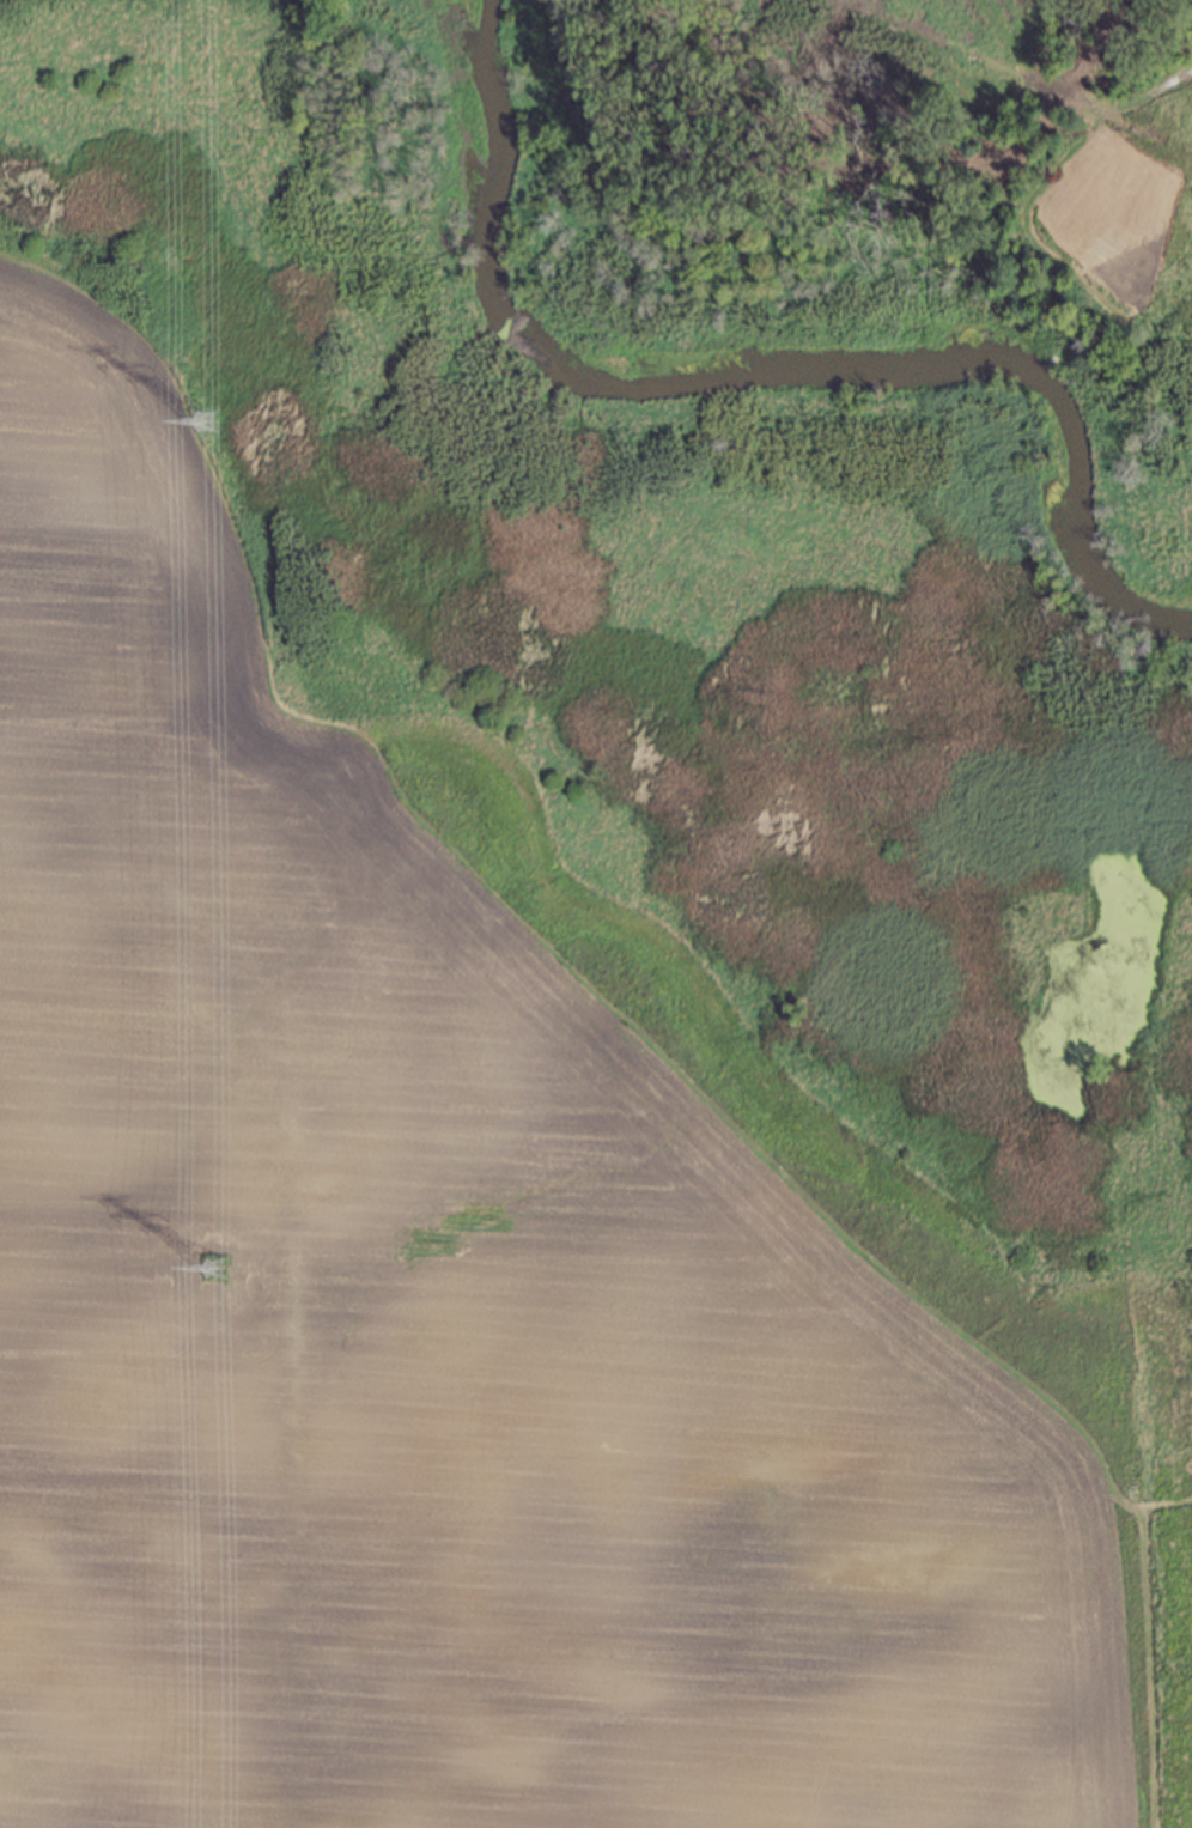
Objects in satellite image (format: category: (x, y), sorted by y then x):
river: (742, 376)
power tower: (205, 417)
power tower: (215, 1279)

